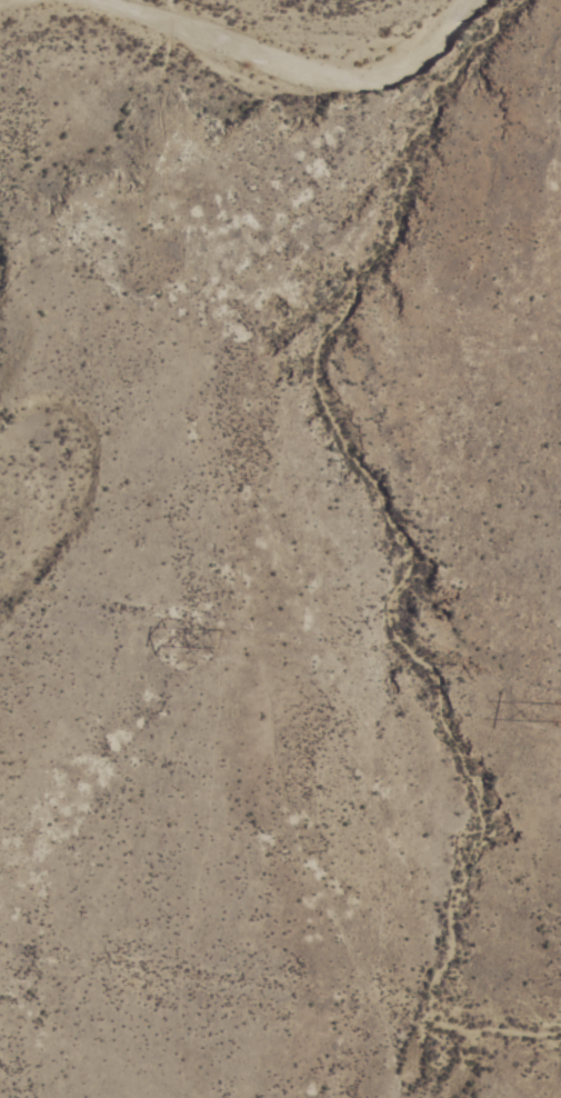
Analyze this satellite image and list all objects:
river: (192, 14)
power tower: (219, 639)

